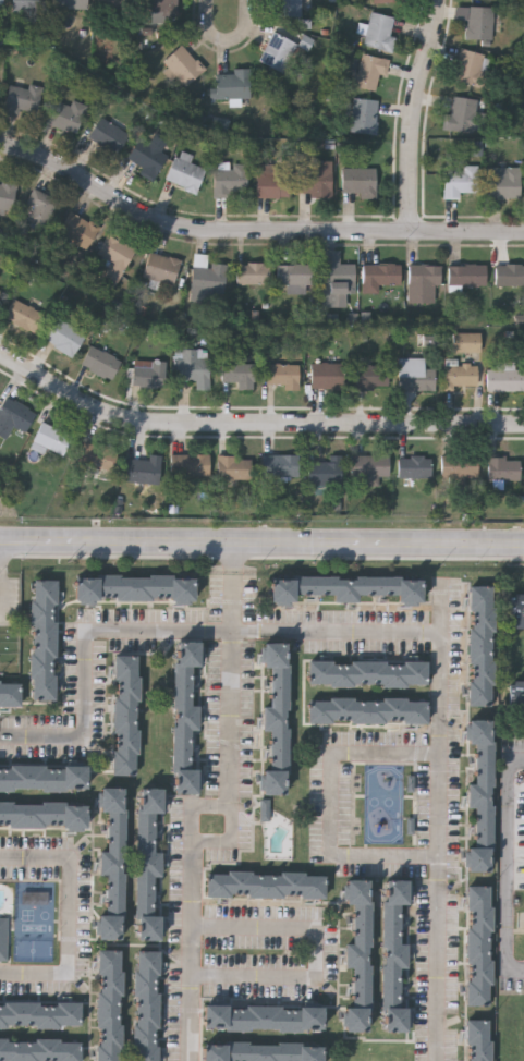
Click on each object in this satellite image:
building: (388, 0)
building: (1, 3)
building: (70, 3)
building: (114, 3)
building: (29, 4)
building: (288, 8)
building: (160, 10)
building: (479, 22)
building: (379, 31)
road: (230, 39)
building: (277, 51)
building: (182, 63)
building: (470, 68)
building: (369, 70)
building: (232, 83)
building: (22, 98)
building: (464, 113)
building: (66, 114)
building: (364, 114)
road: (417, 114)
building: (108, 133)
building: (147, 155)
building: (185, 171)
building: (314, 176)
building: (231, 179)
building: (272, 180)
building: (358, 180)
building: (503, 181)
building: (460, 182)
building: (7, 194)
building: (40, 205)
building: (77, 229)
road: (252, 231)
building: (114, 256)
building: (161, 267)
building: (253, 272)
building: (295, 273)
building: (509, 273)
building: (379, 275)
building: (466, 275)
building: (208, 277)
building: (338, 282)
building: (422, 282)
building: (23, 315)
building: (63, 336)
building: (466, 340)
building: (100, 362)
building: (195, 365)
building: (149, 371)
building: (239, 373)
building: (282, 373)
building: (327, 373)
building: (414, 373)
building: (370, 375)
building: (459, 375)
building: (504, 378)
building: (15, 413)
road: (254, 418)
building: (49, 438)
building: (97, 455)
building: (188, 463)
building: (279, 464)
building: (369, 464)
building: (233, 465)
building: (414, 465)
building: (459, 465)
building: (502, 467)
building: (144, 468)
building: (325, 469)
road: (261, 542)
road: (234, 558)
building: (345, 585)
building: (134, 586)
building: (516, 608)
road: (389, 633)
building: (44, 637)
building: (480, 643)
building: (368, 670)
building: (10, 692)
building: (519, 694)
building: (367, 708)
building: (125, 712)
building: (277, 714)
building: (184, 715)
building: (42, 775)
building: (480, 792)
road: (339, 806)
road: (205, 810)
building: (42, 813)
road: (232, 840)
building: (115, 861)
building: (149, 862)
road: (510, 868)
building: (266, 885)
park: (35, 920)
road: (80, 922)
building: (4, 938)
building: (478, 942)
road: (318, 950)
building: (362, 954)
building: (397, 956)
building: (109, 1003)
building: (146, 1004)
building: (40, 1011)
building: (266, 1016)
building: (42, 1035)
building: (477, 1039)
building: (39, 1048)
building: (266, 1051)

